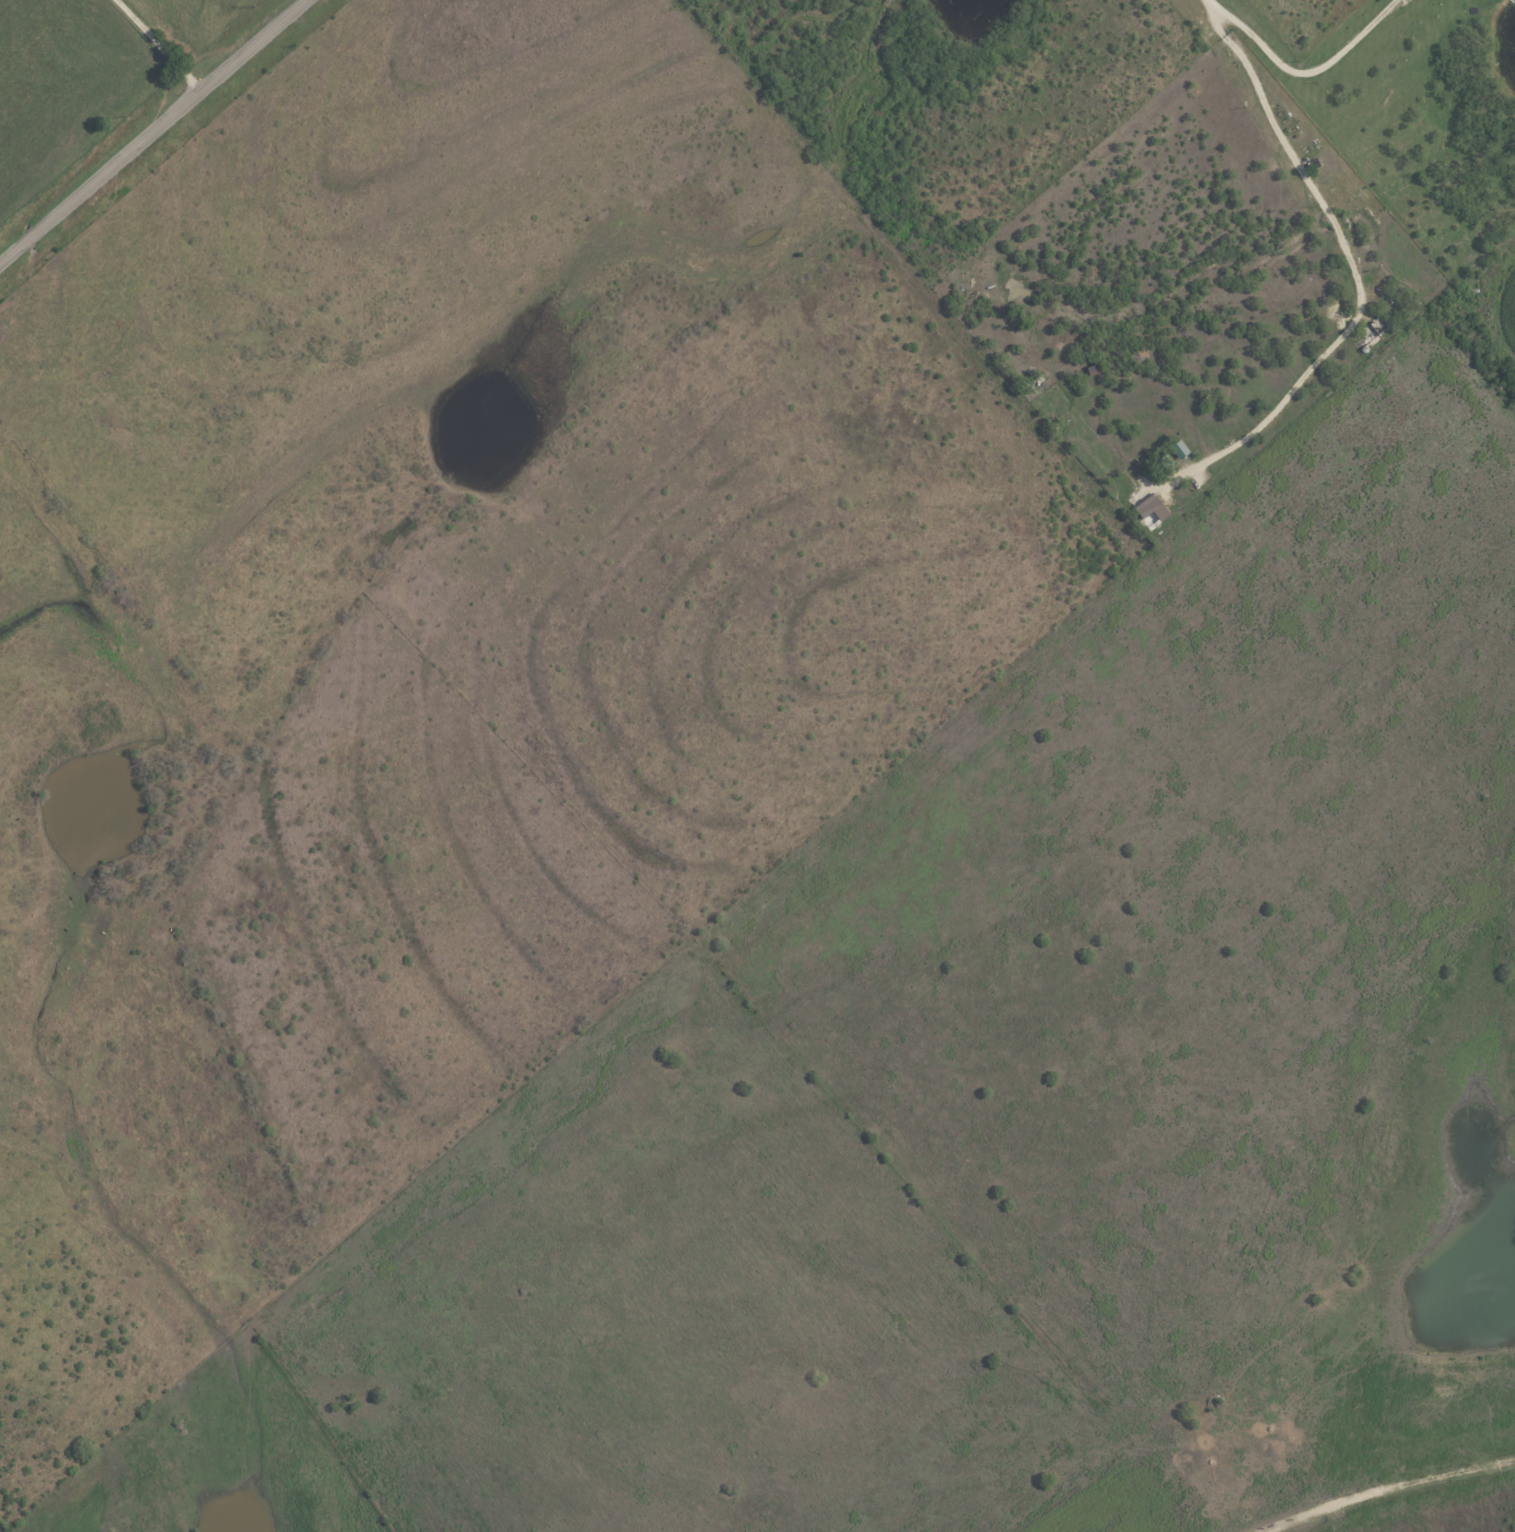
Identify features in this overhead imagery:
road: (1208, 3)
road: (160, 45)
road: (1306, 76)
road: (155, 133)
road: (1352, 270)
building: (1179, 449)
building: (1152, 511)

